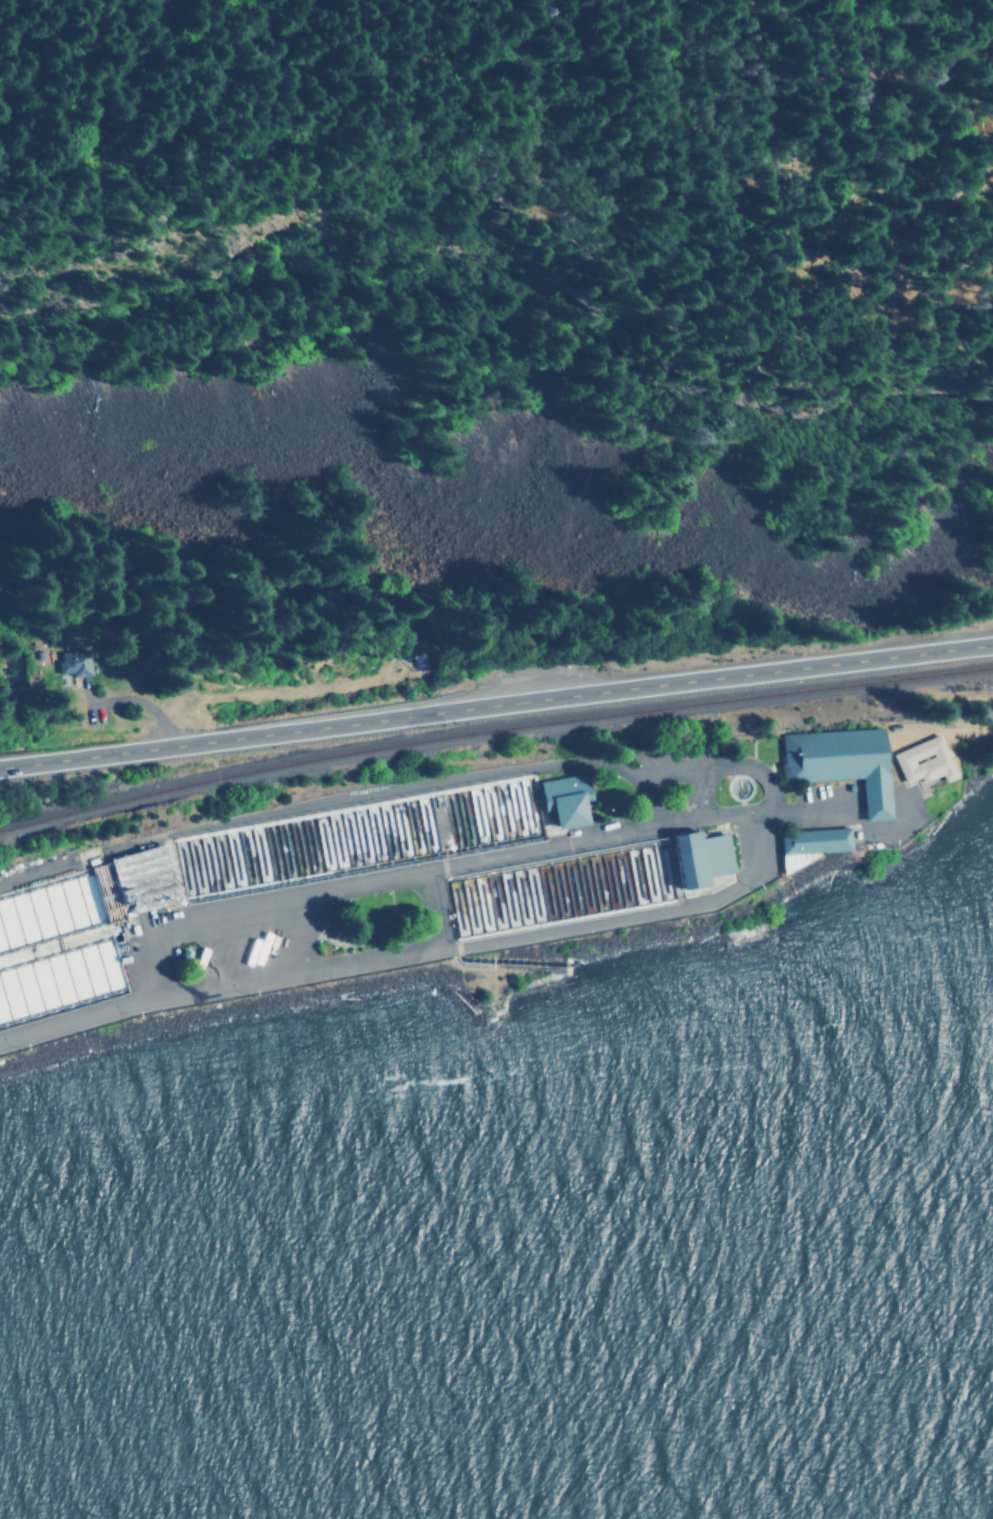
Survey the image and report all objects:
road: (496, 706)
railway: (493, 732)
parking lot: (678, 756)
building: (920, 759)
building: (839, 763)
parking lot: (697, 793)
building: (559, 801)
building: (804, 844)
building: (701, 855)
parking lot: (259, 941)
building: (20, 954)
road: (381, 958)

